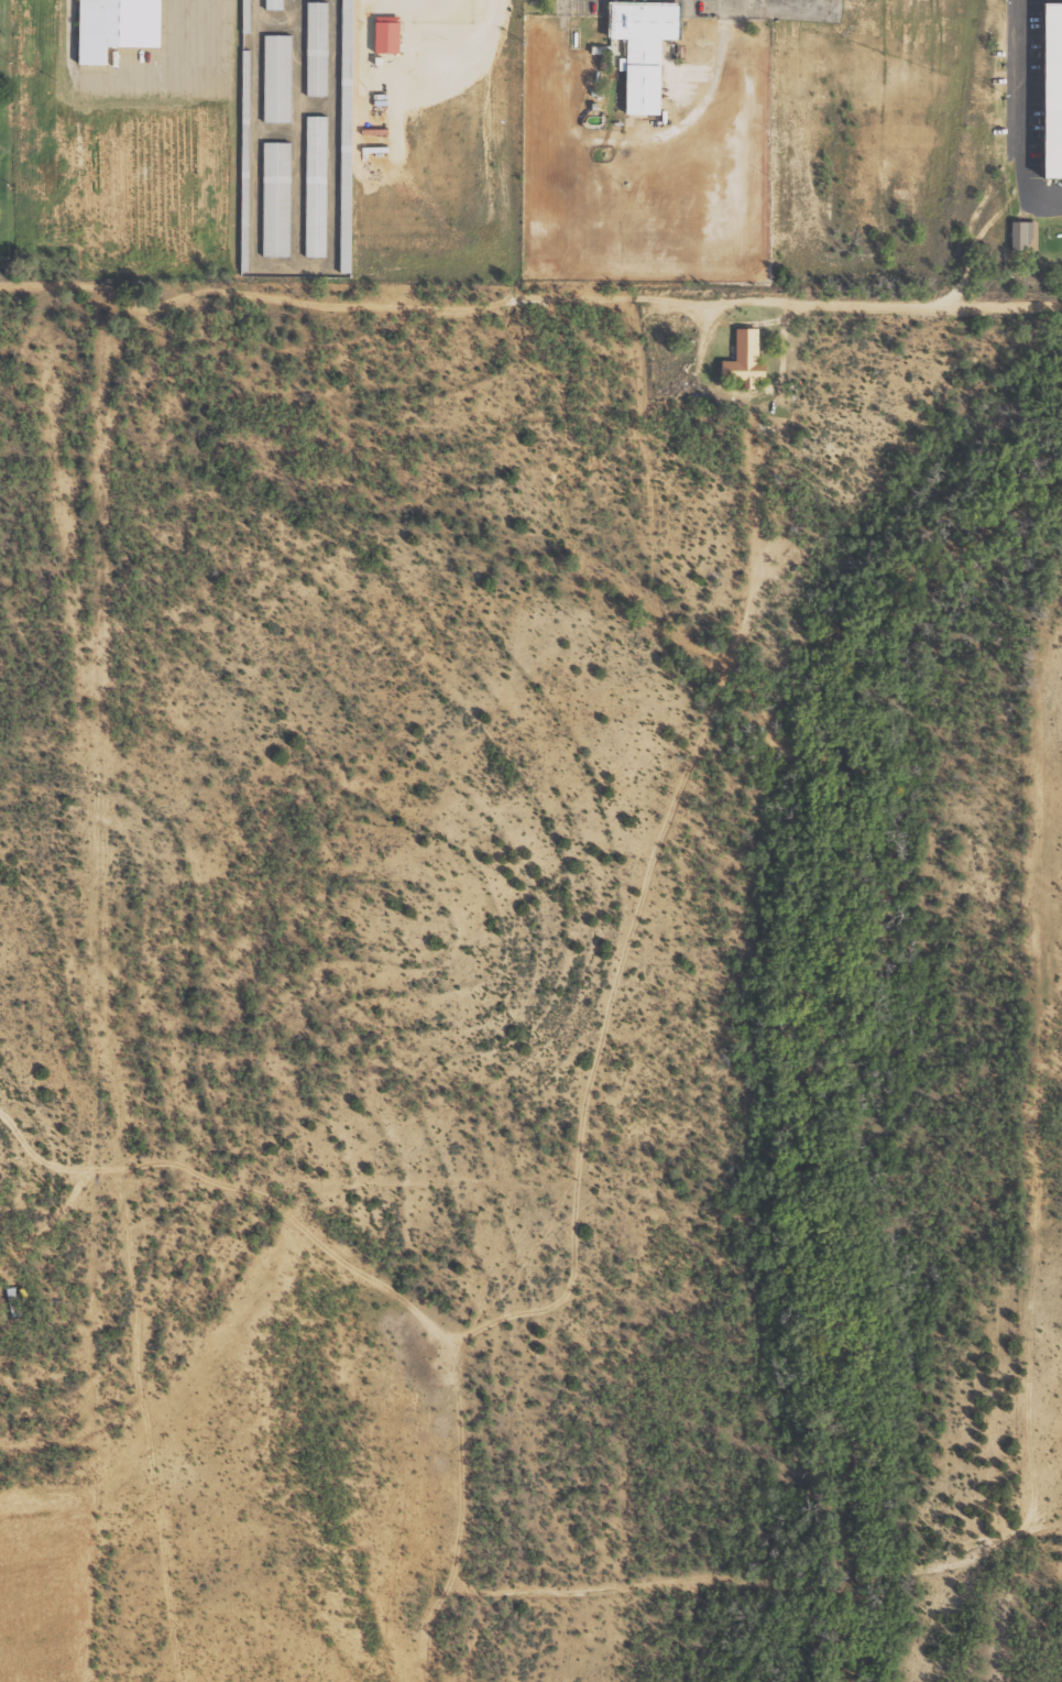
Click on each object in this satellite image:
building: (276, 4)
building: (110, 28)
building: (348, 34)
building: (635, 47)
building: (318, 48)
building: (278, 77)
building: (1049, 102)
building: (316, 185)
building: (277, 198)
building: (1022, 233)
building: (746, 359)

